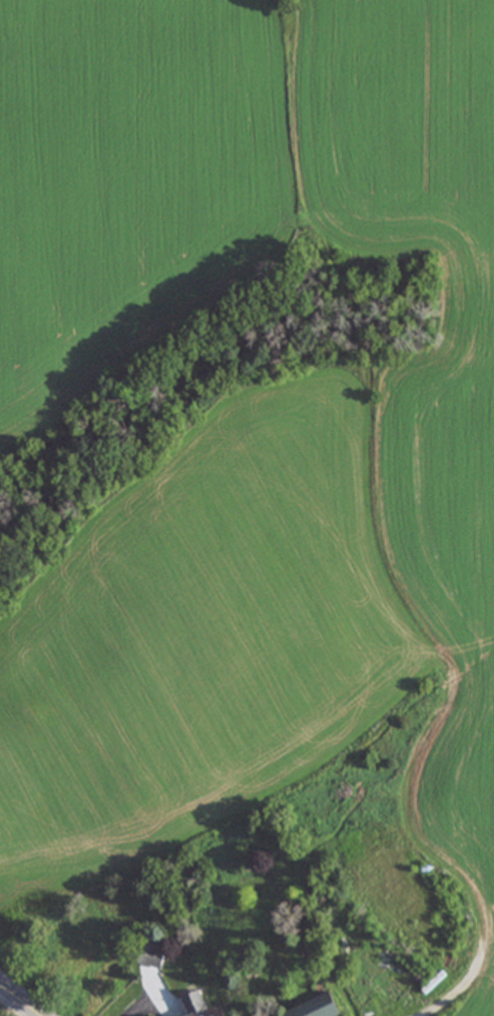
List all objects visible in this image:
building: (150, 955)
road: (18, 1001)
building: (193, 1005)
building: (315, 1007)

